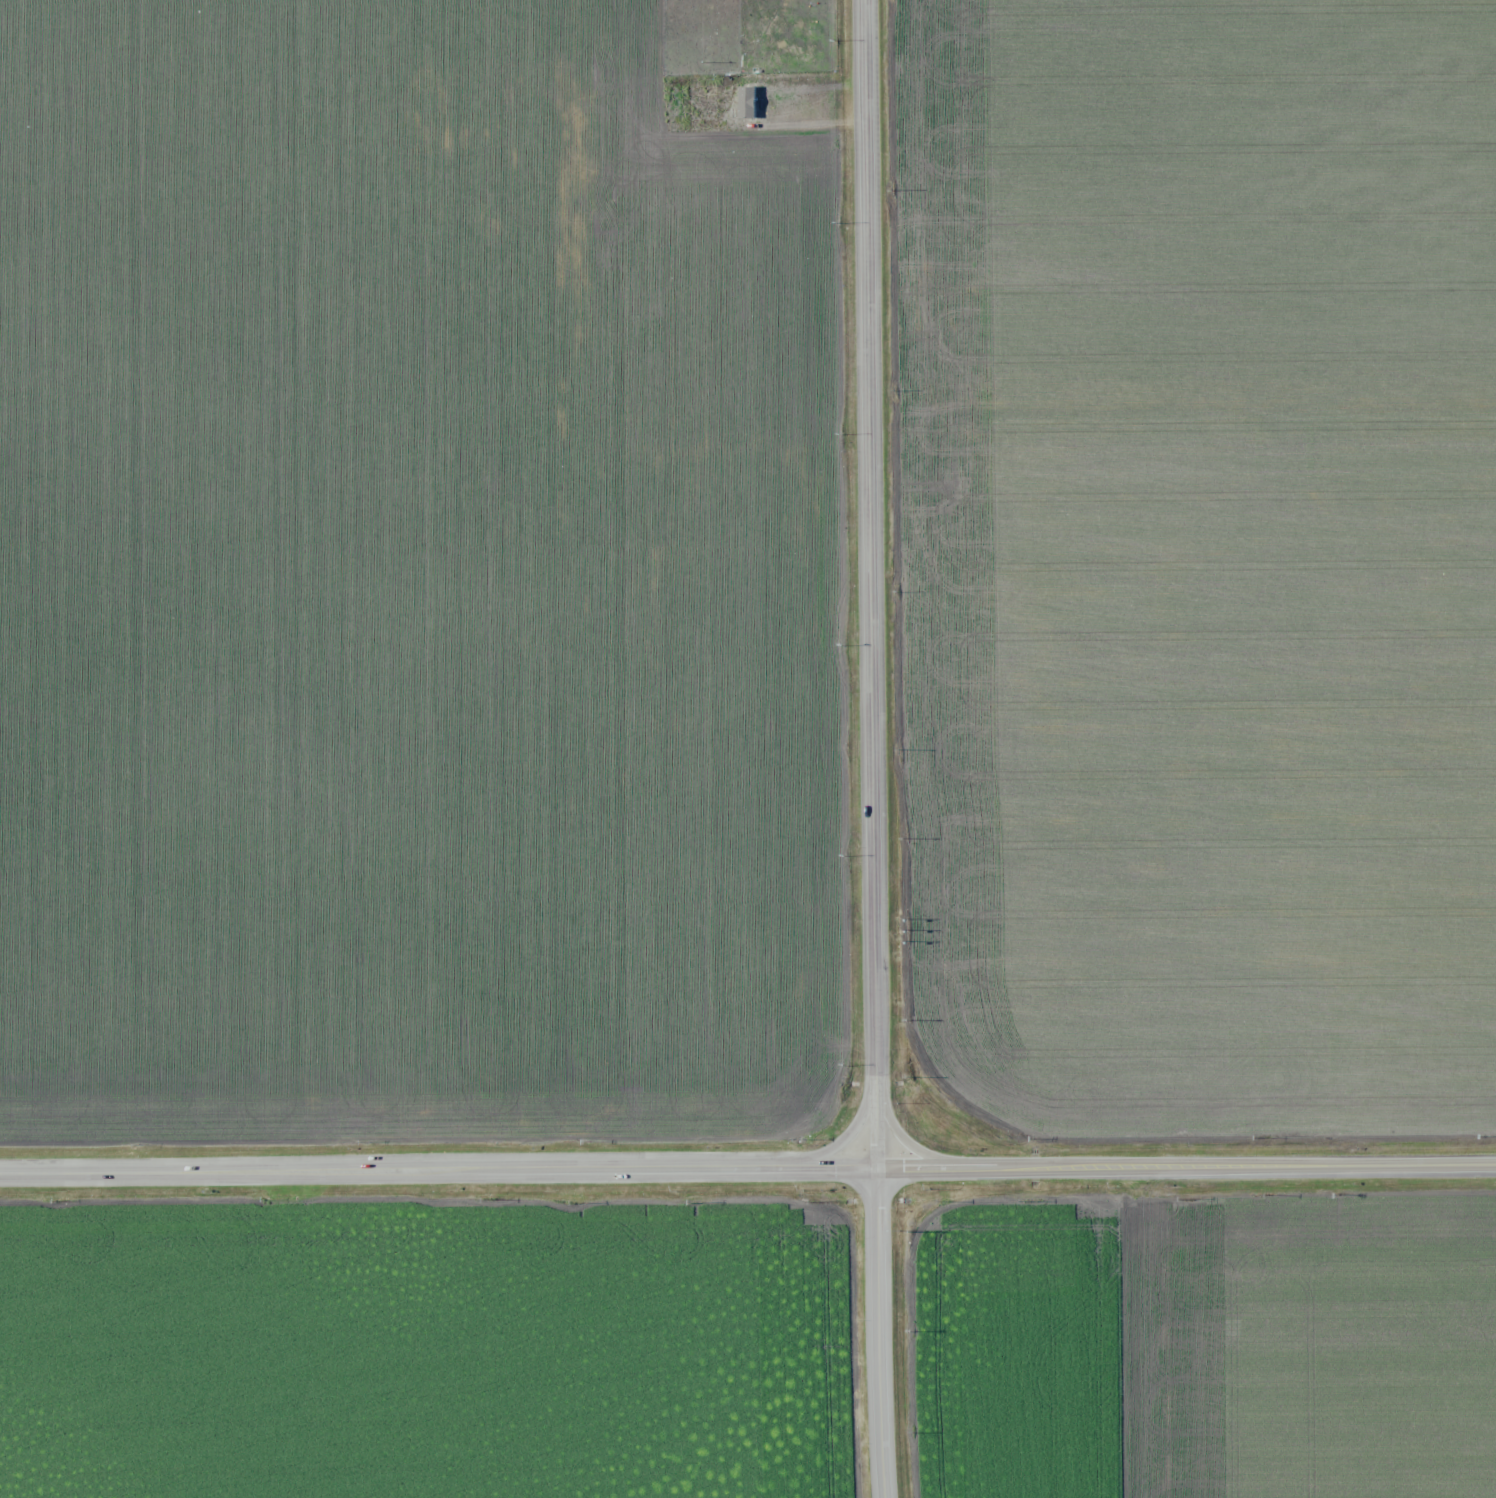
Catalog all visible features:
road: (872, 540)
road: (876, 1124)
road: (849, 1134)
road: (904, 1135)
road: (1185, 1166)
road: (837, 1168)
road: (399, 1170)
road: (878, 1333)

